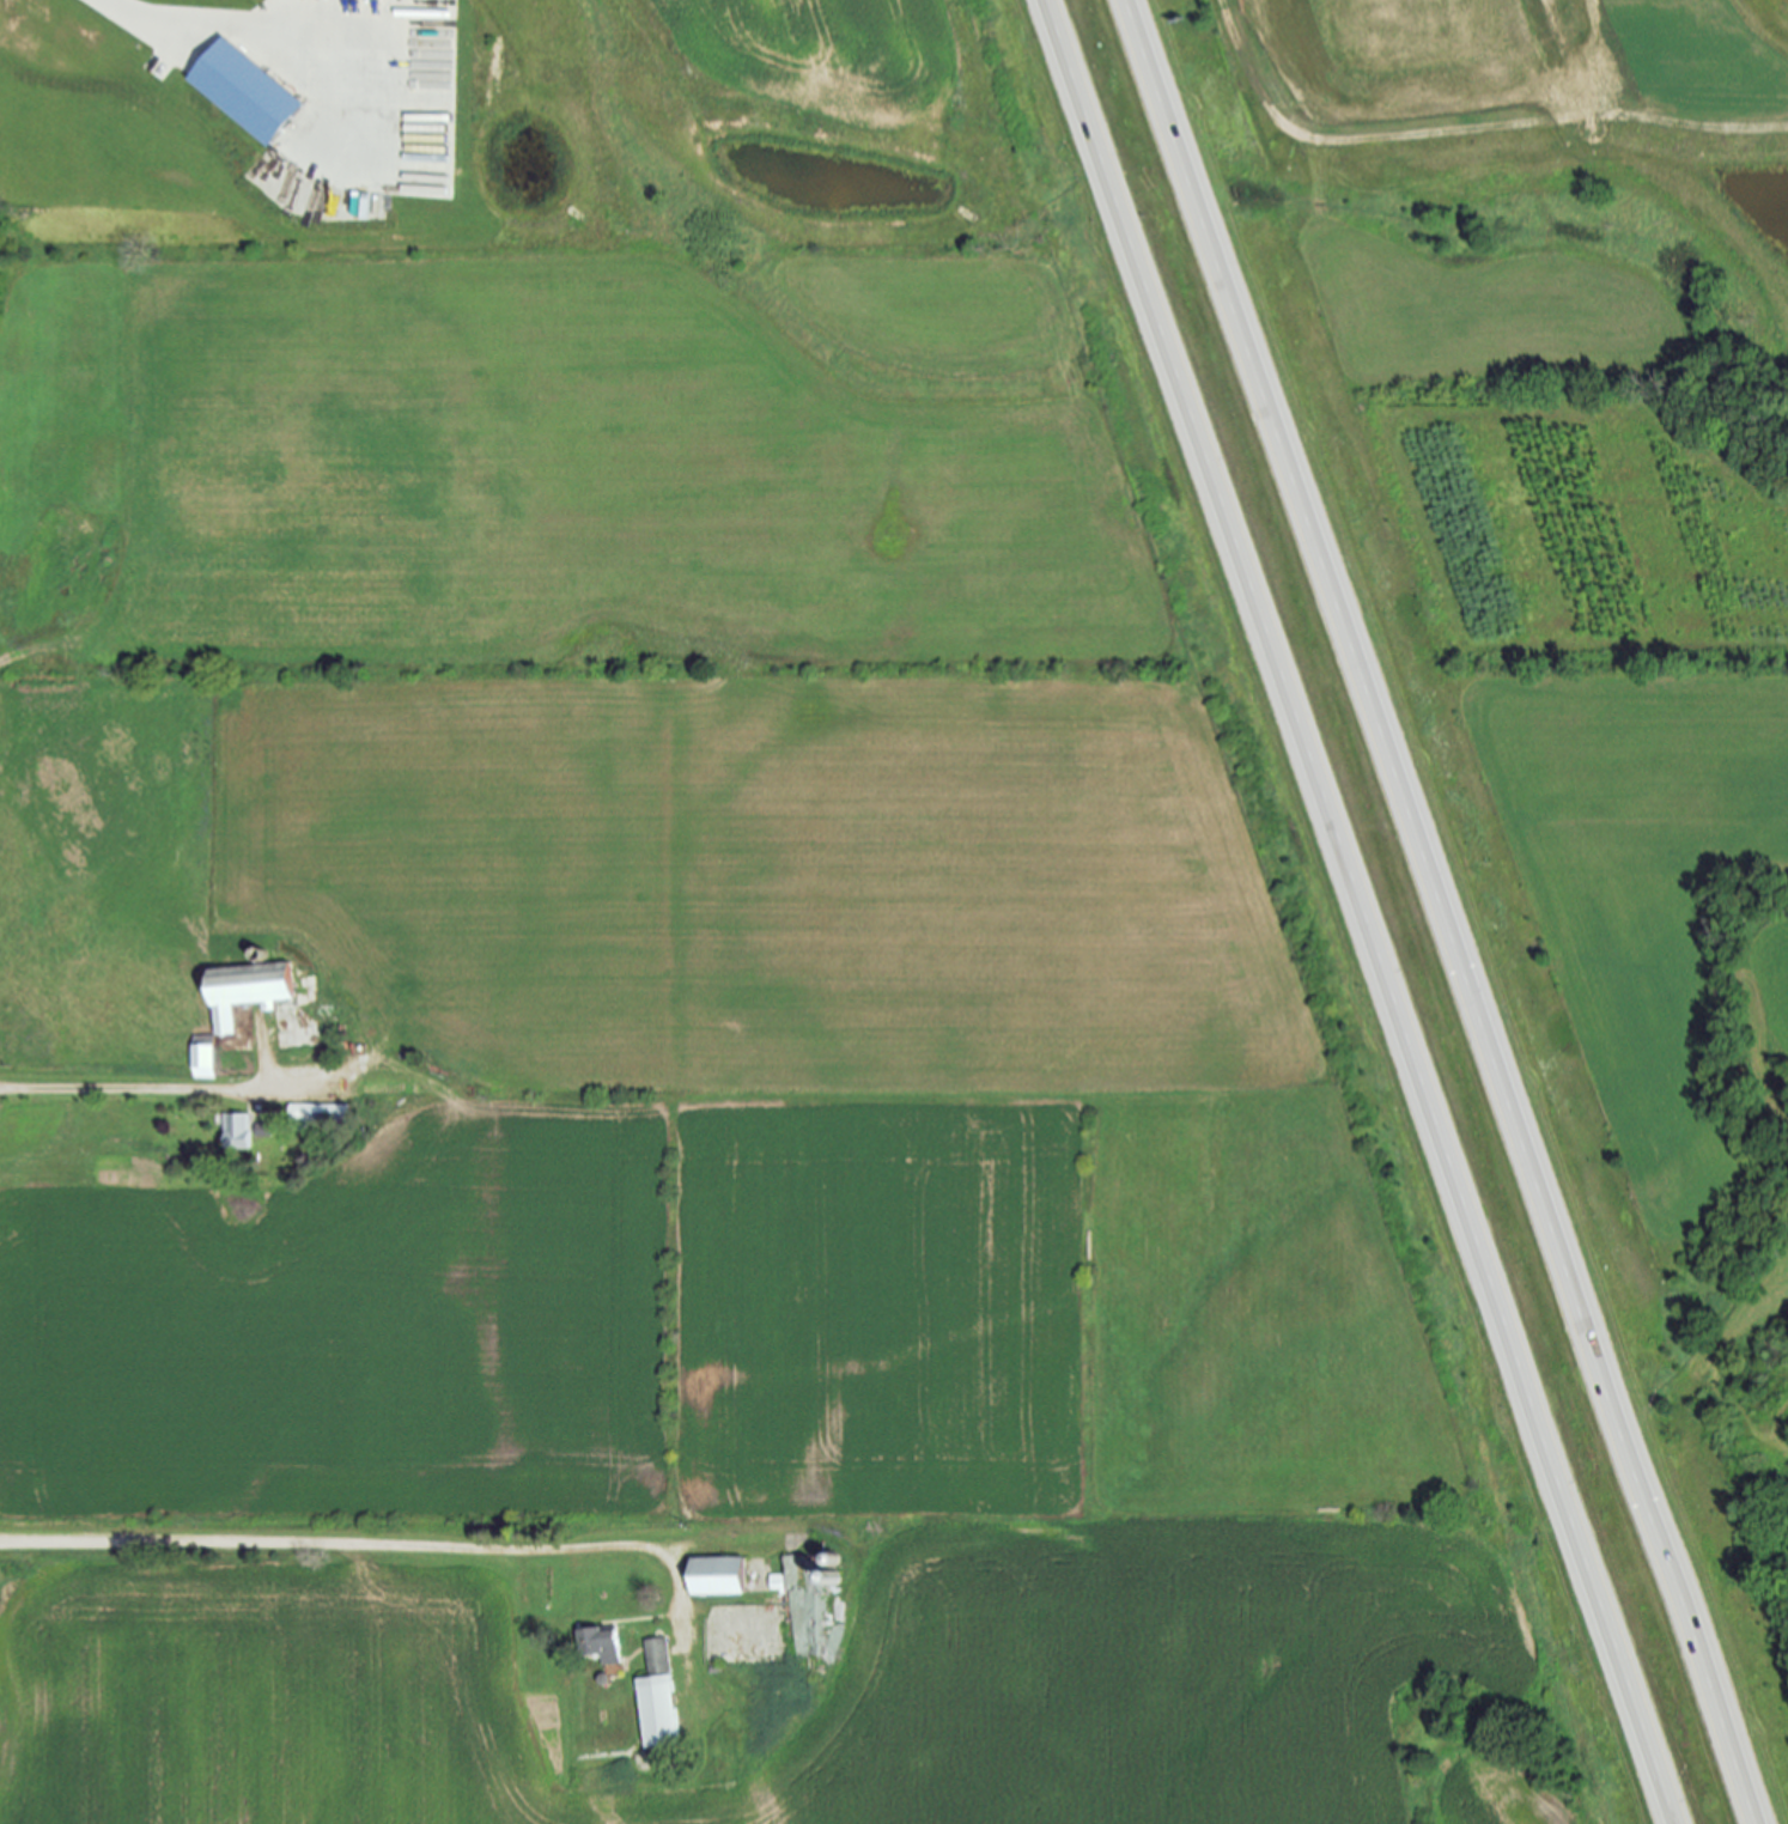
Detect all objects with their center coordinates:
road: (151, 16)
building: (249, 89)
road: (1369, 911)
road: (1449, 911)
building: (221, 1021)
road: (154, 1089)
building: (318, 1118)
building: (263, 1130)
building: (237, 1131)
road: (360, 1548)
building: (718, 1577)
building: (801, 1609)
building: (601, 1646)
building: (658, 1698)

